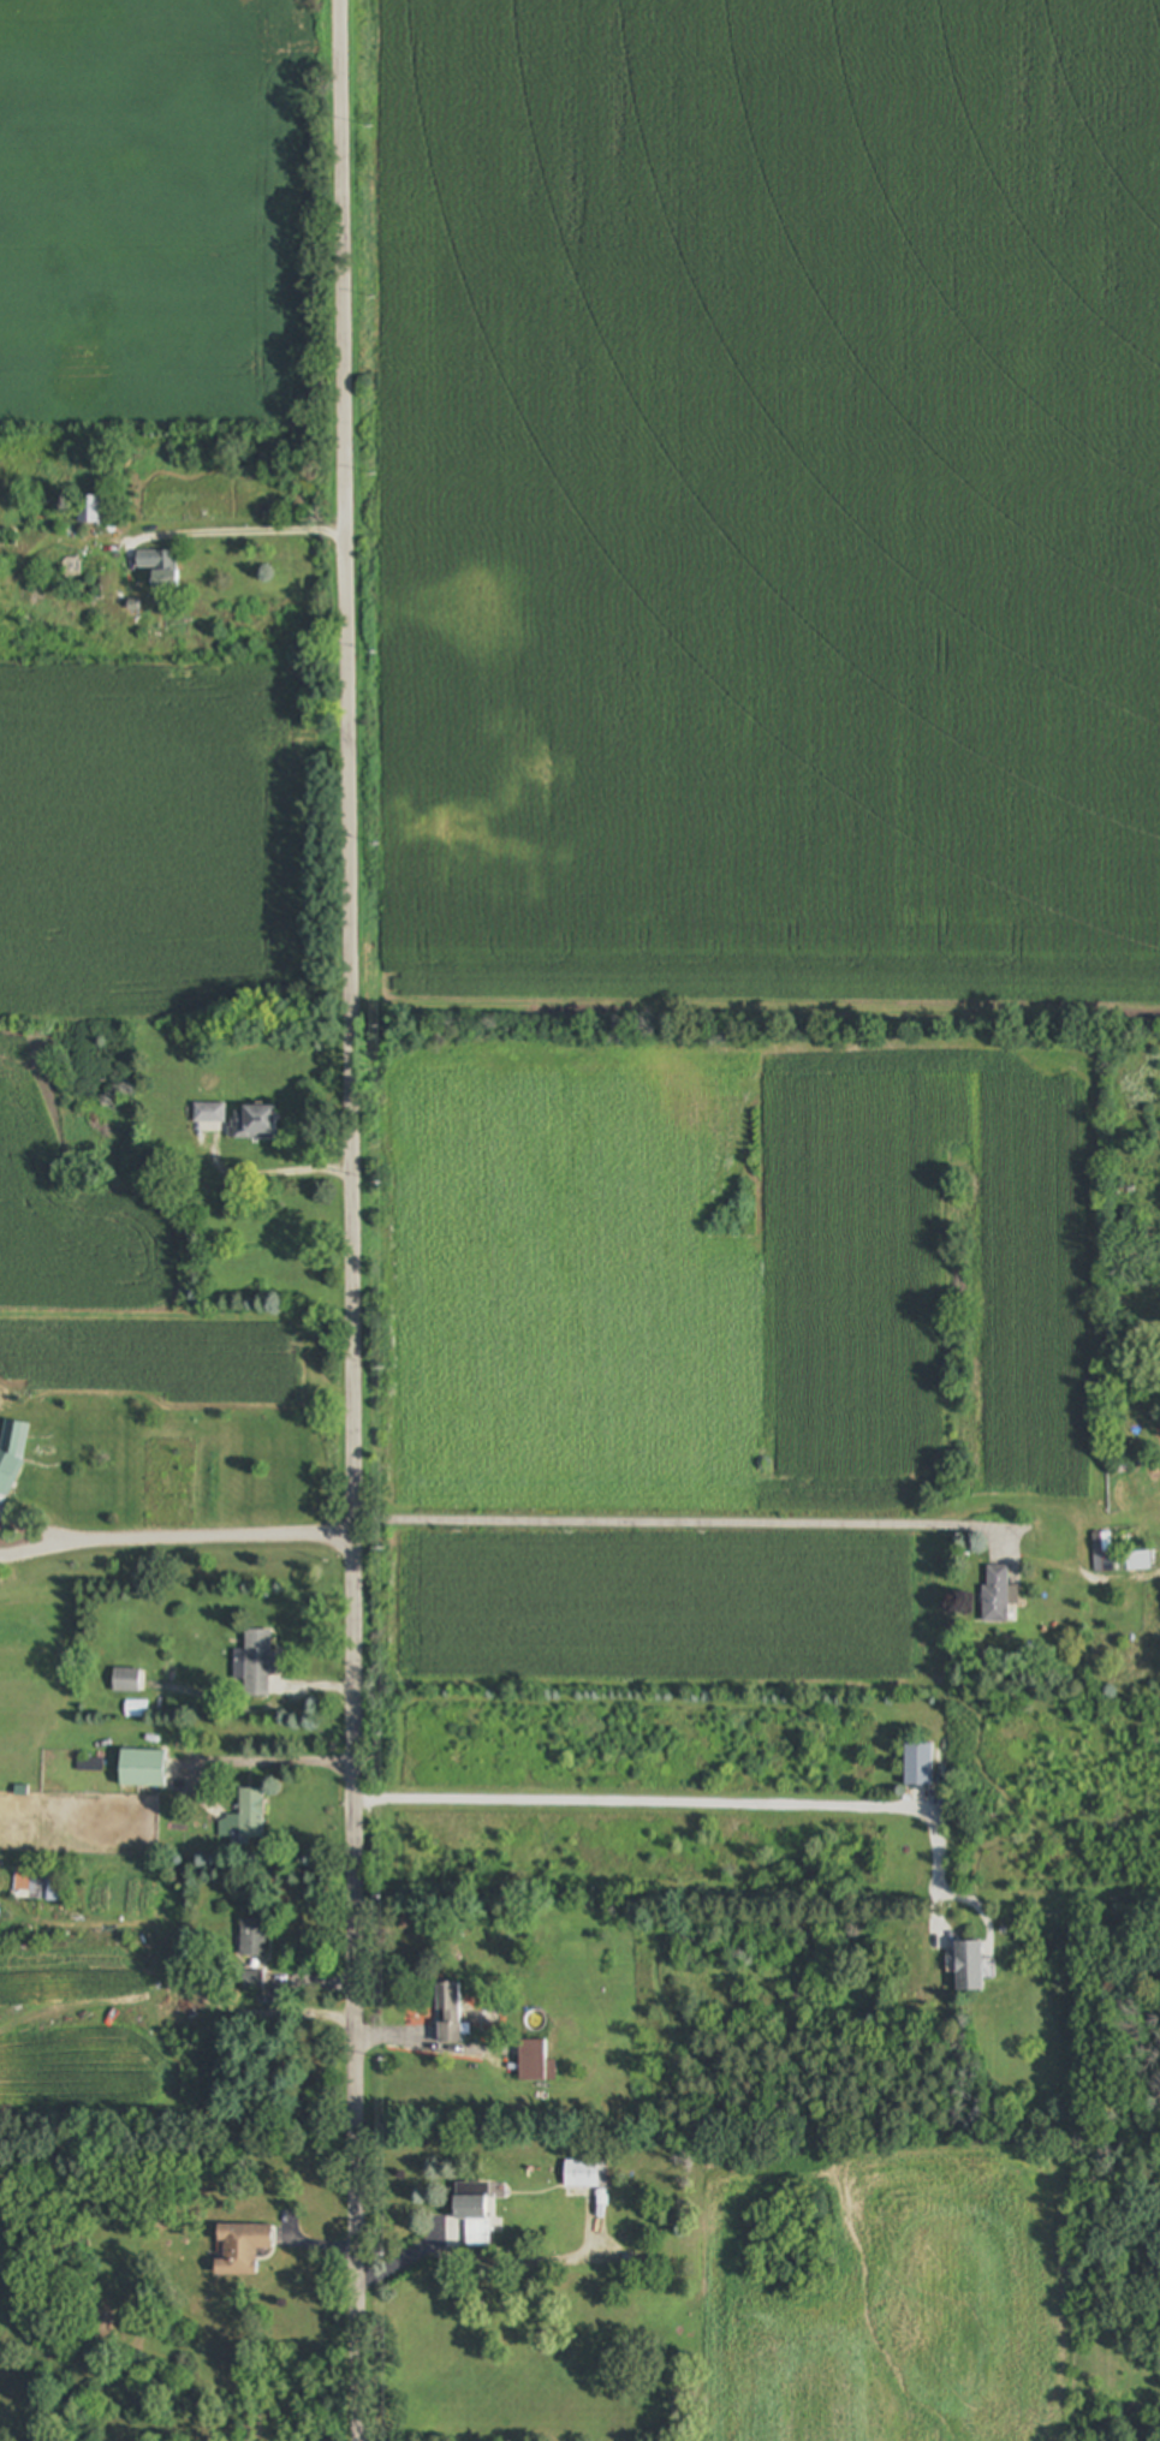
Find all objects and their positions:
building: (90, 510)
road: (234, 532)
building: (161, 568)
building: (212, 1114)
building: (255, 1125)
road: (282, 1175)
road: (349, 1220)
building: (11, 1457)
road: (672, 1524)
road: (174, 1541)
building: (1118, 1559)
building: (998, 1596)
building: (258, 1665)
building: (127, 1681)
road: (272, 1762)
building: (920, 1764)
building: (143, 1769)
road: (690, 1805)
building: (251, 1814)
building: (23, 1881)
building: (55, 1886)
building: (255, 1937)
building: (970, 1966)
building: (452, 2014)
building: (539, 2061)
building: (587, 2174)
building: (475, 2213)
building: (243, 2249)

